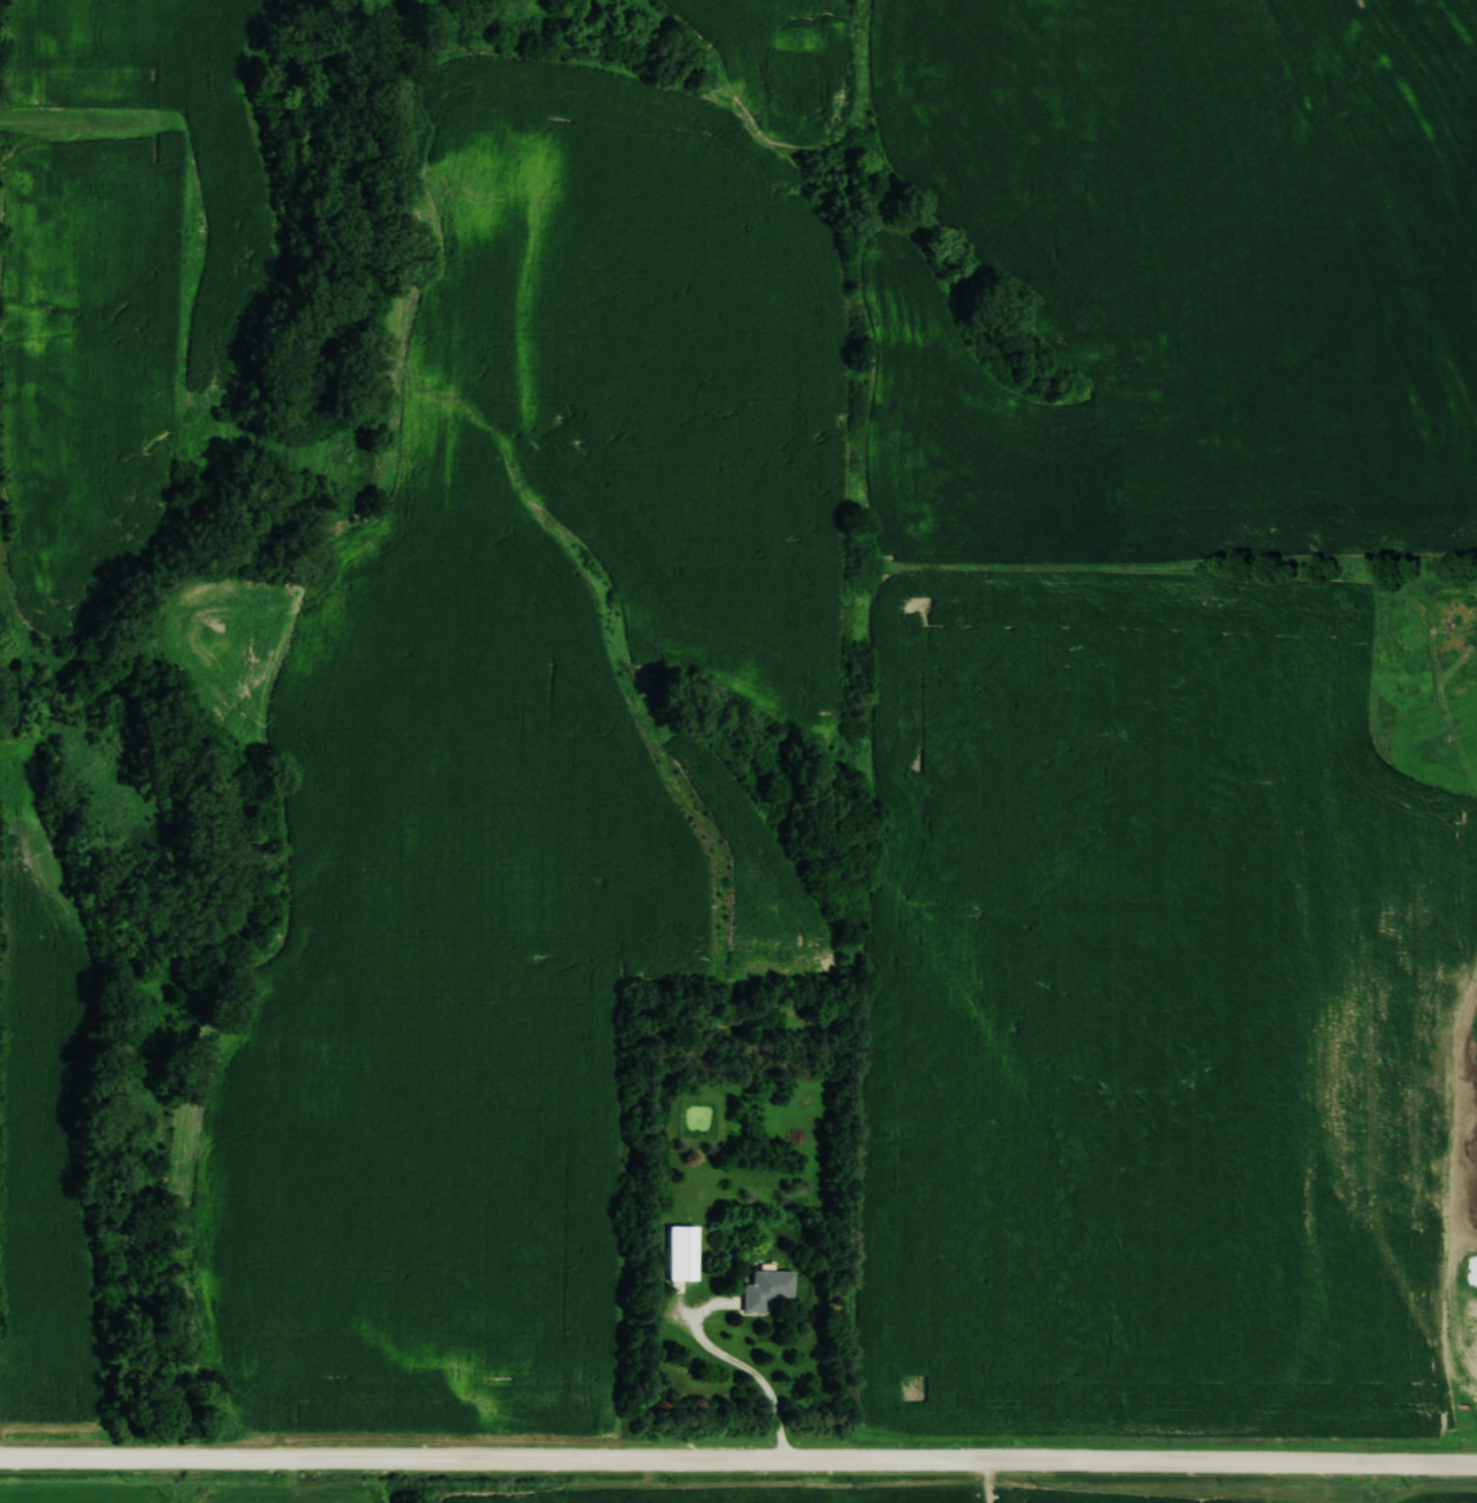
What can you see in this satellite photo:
building: (683, 1252)
building: (768, 1289)
building: (1463, 1344)
road: (738, 1459)

